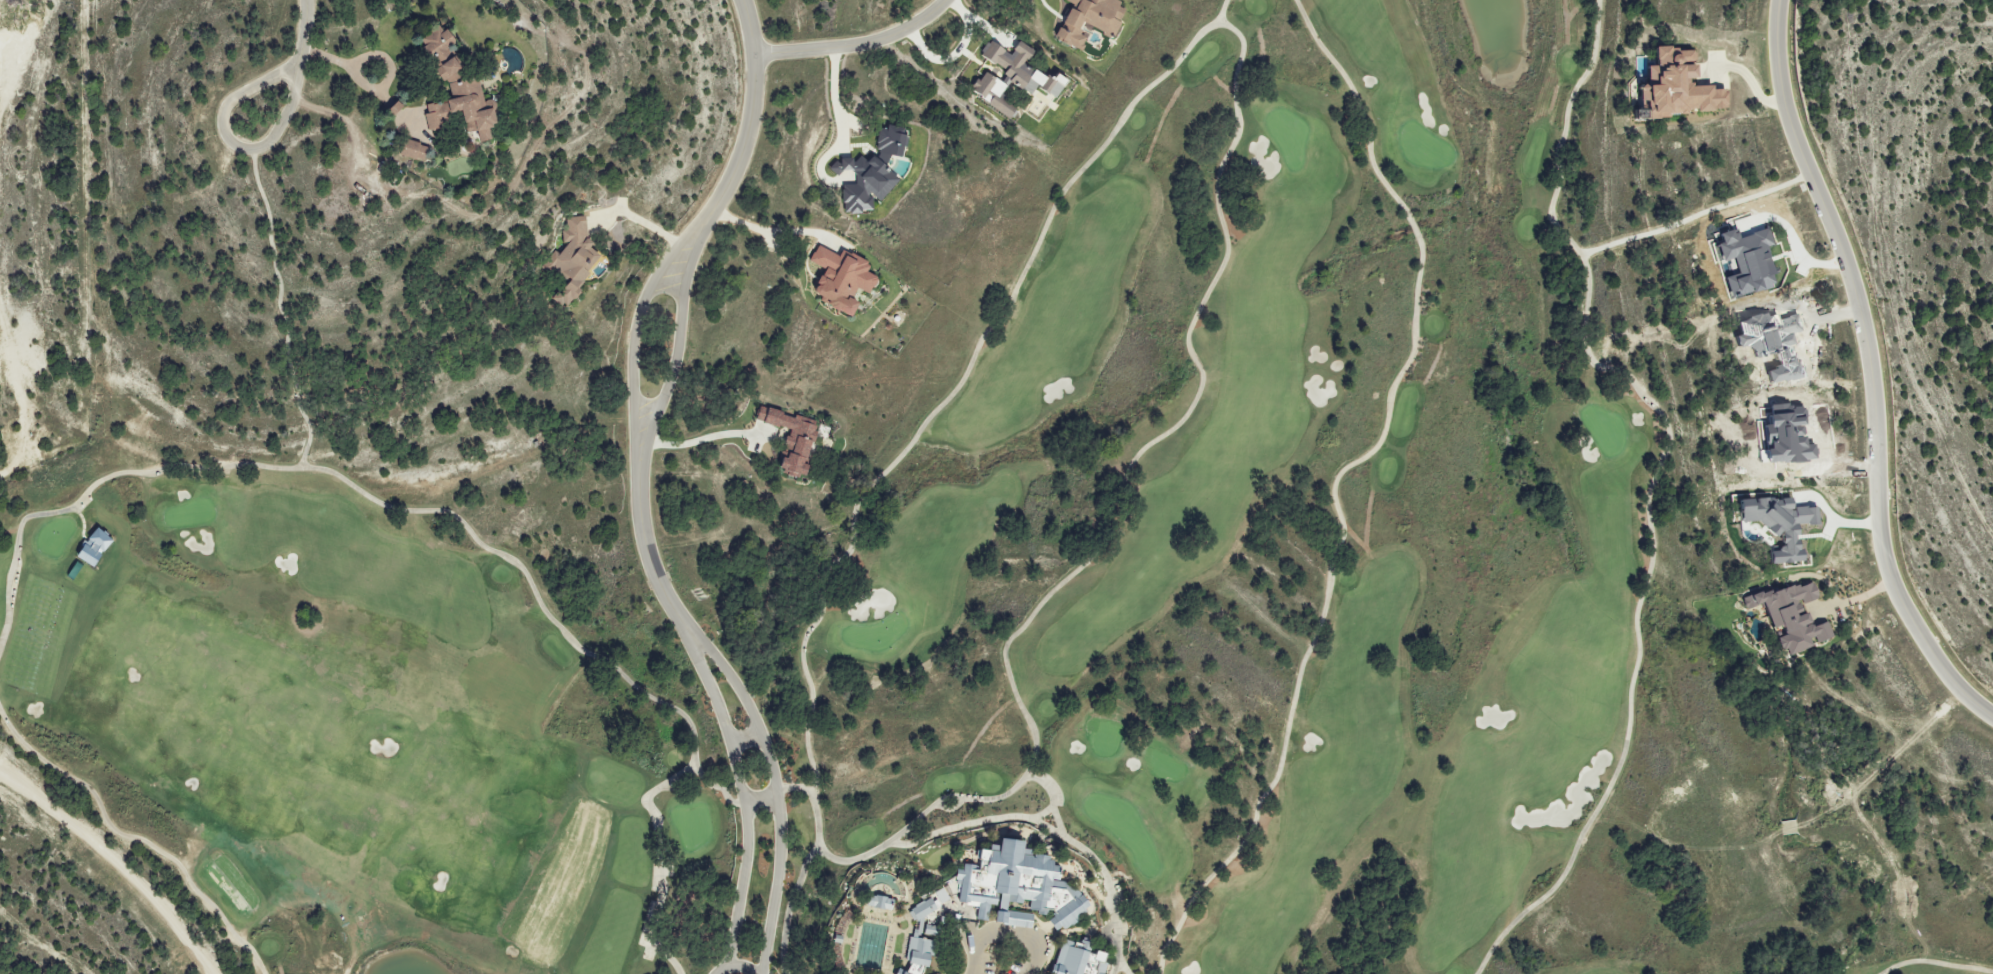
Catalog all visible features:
building: (1093, 20)
road: (304, 35)
road: (856, 46)
building: (1021, 68)
building: (1671, 86)
building: (468, 87)
building: (993, 93)
building: (442, 117)
road: (752, 122)
park: (1287, 138)
road: (230, 144)
building: (418, 152)
building: (873, 172)
road: (771, 227)
building: (573, 258)
building: (1743, 260)
building: (844, 280)
road: (637, 336)
road: (676, 347)
road: (1870, 366)
building: (1780, 436)
road: (696, 438)
building: (794, 438)
road: (902, 454)
road: (1110, 513)
building: (1774, 524)
road: (643, 541)
building: (97, 548)
building: (1786, 616)
park: (875, 636)
road: (744, 736)
road: (773, 781)
road: (739, 789)
road: (7, 799)
road: (760, 800)
road: (951, 810)
road: (993, 821)
road: (1056, 823)
road: (1103, 879)
road: (101, 882)
building: (1015, 888)
building: (940, 895)
building: (947, 895)
building: (875, 903)
building: (938, 930)
road: (1004, 933)
building: (917, 941)
parking lot: (1006, 950)
building: (1078, 959)
road: (1120, 964)
road: (1936, 964)
road: (735, 967)

